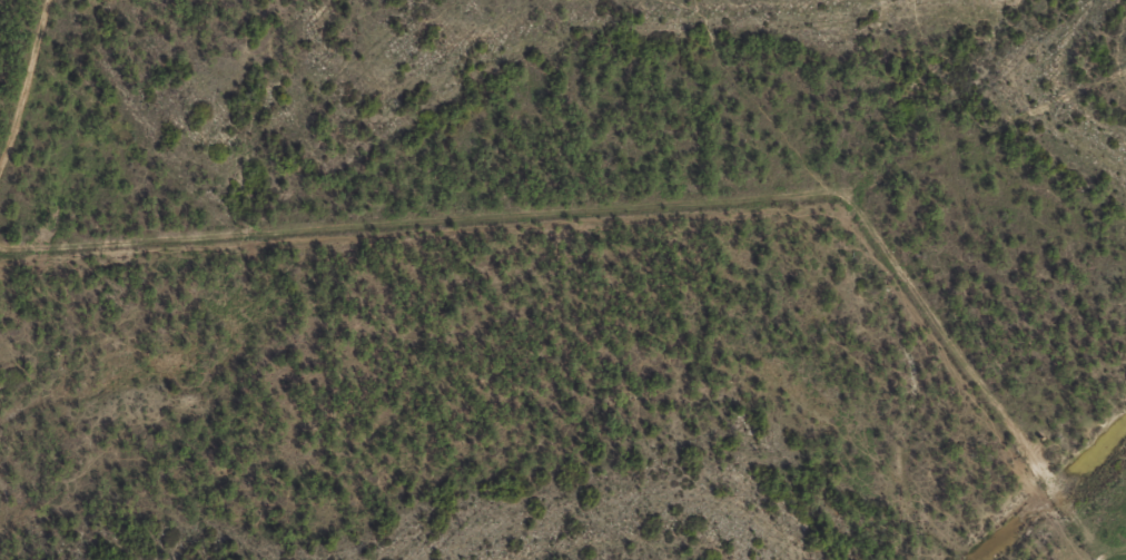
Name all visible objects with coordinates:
road: (19, 96)

